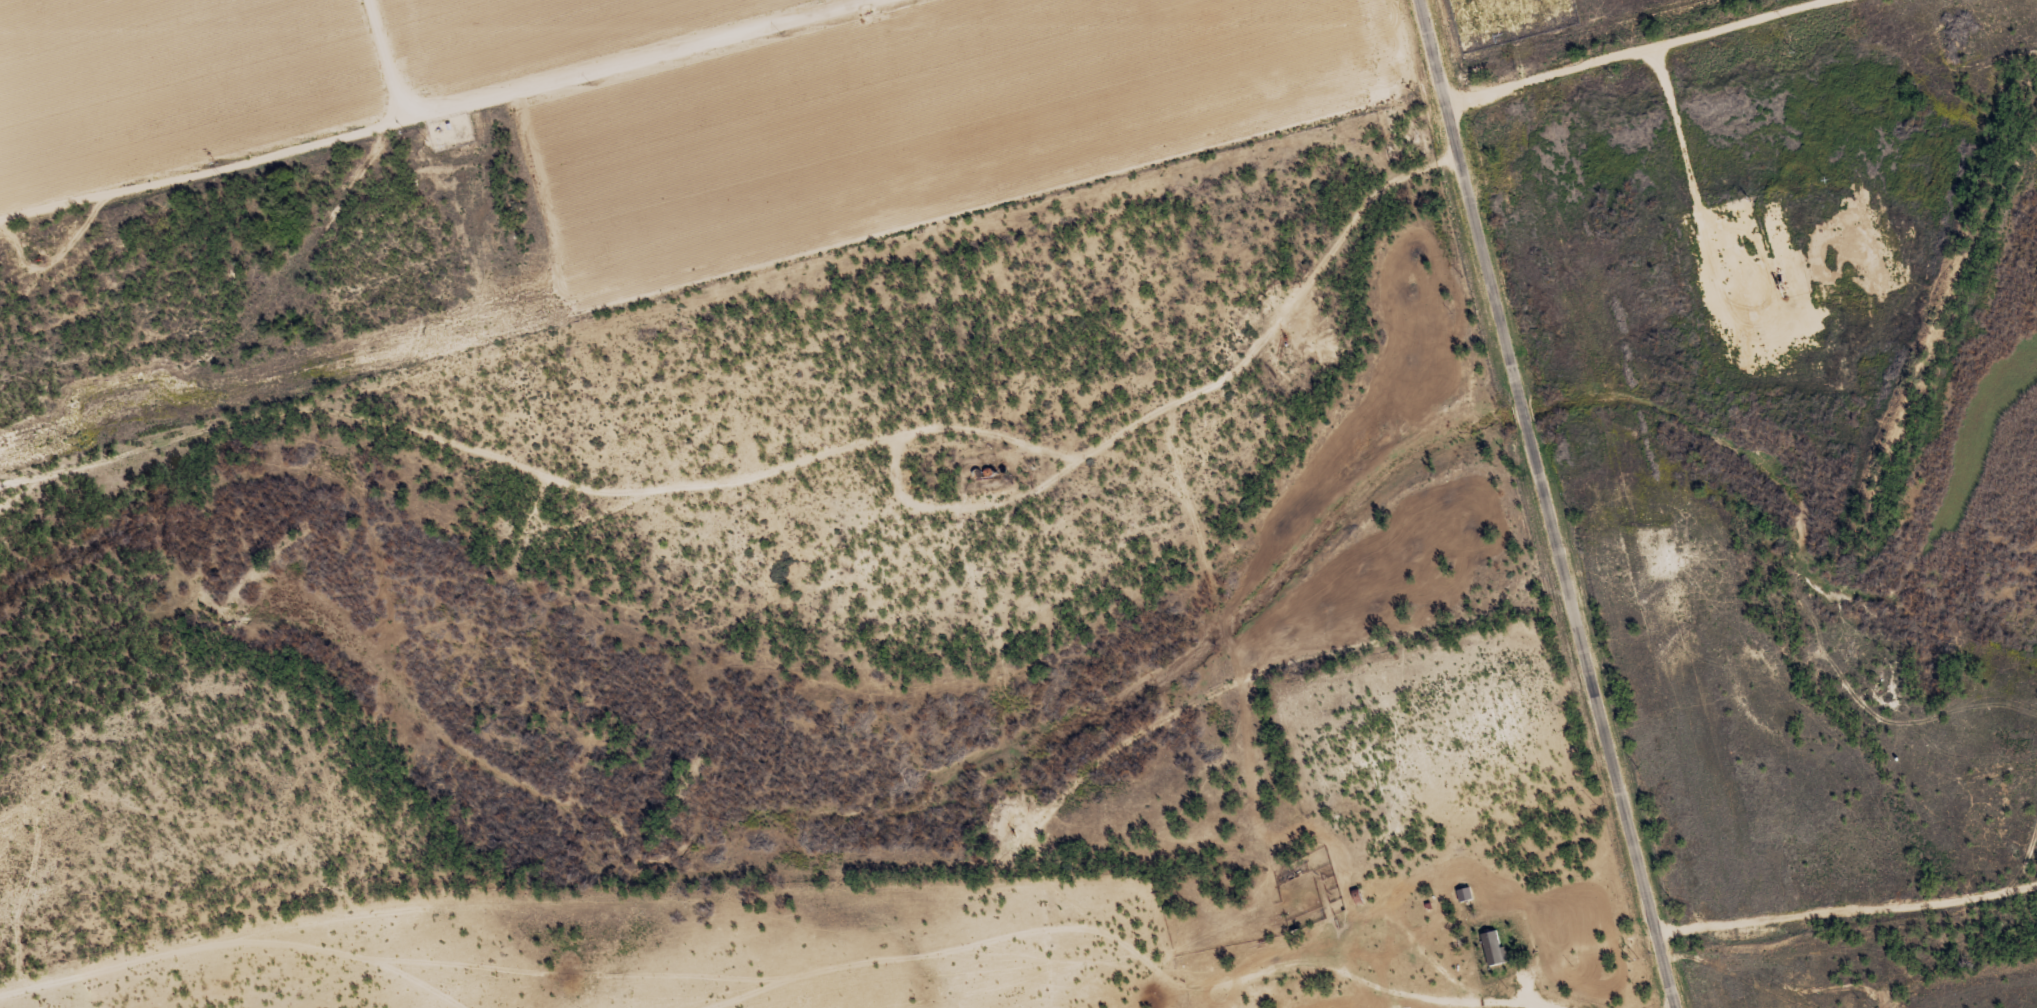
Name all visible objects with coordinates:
road: (1547, 504)
building: (1357, 897)
building: (1493, 948)

